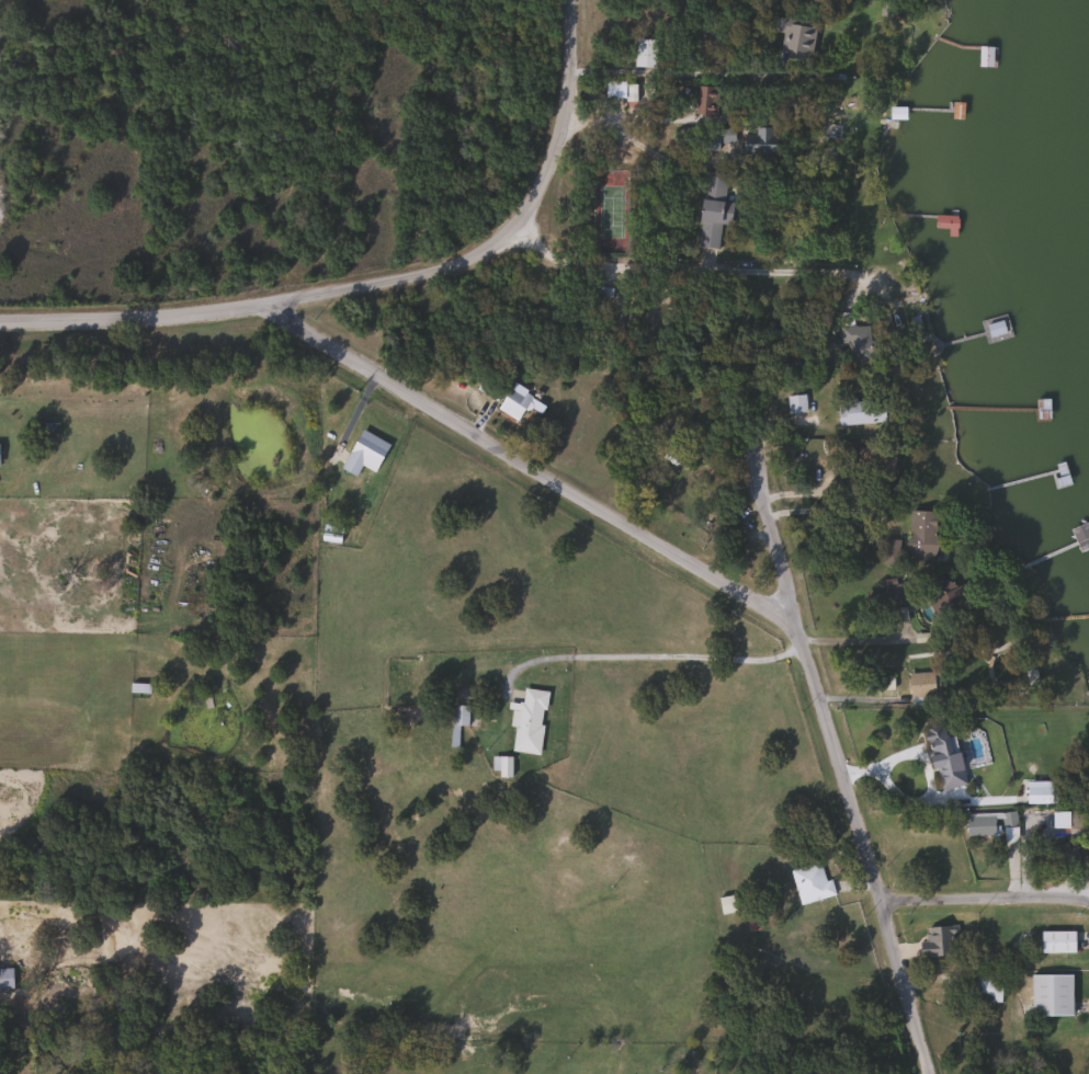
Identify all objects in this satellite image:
building: (793, 37)
building: (644, 53)
building: (986, 57)
road: (680, 72)
building: (617, 91)
building: (705, 101)
road: (640, 119)
building: (716, 138)
building: (758, 144)
road: (659, 157)
building: (711, 209)
road: (507, 229)
road: (663, 266)
building: (591, 290)
building: (995, 328)
building: (853, 339)
building: (512, 403)
building: (860, 411)
building: (363, 454)
building: (874, 460)
road: (762, 505)
road: (820, 510)
road: (613, 517)
building: (920, 535)
building: (885, 599)
road: (852, 639)
road: (647, 656)
building: (923, 685)
building: (138, 688)
building: (529, 721)
building: (944, 757)
building: (1040, 792)
building: (1058, 821)
building: (978, 825)
building: (810, 884)
road: (985, 899)
building: (1056, 942)
building: (5, 979)
building: (987, 989)
building: (1050, 996)

